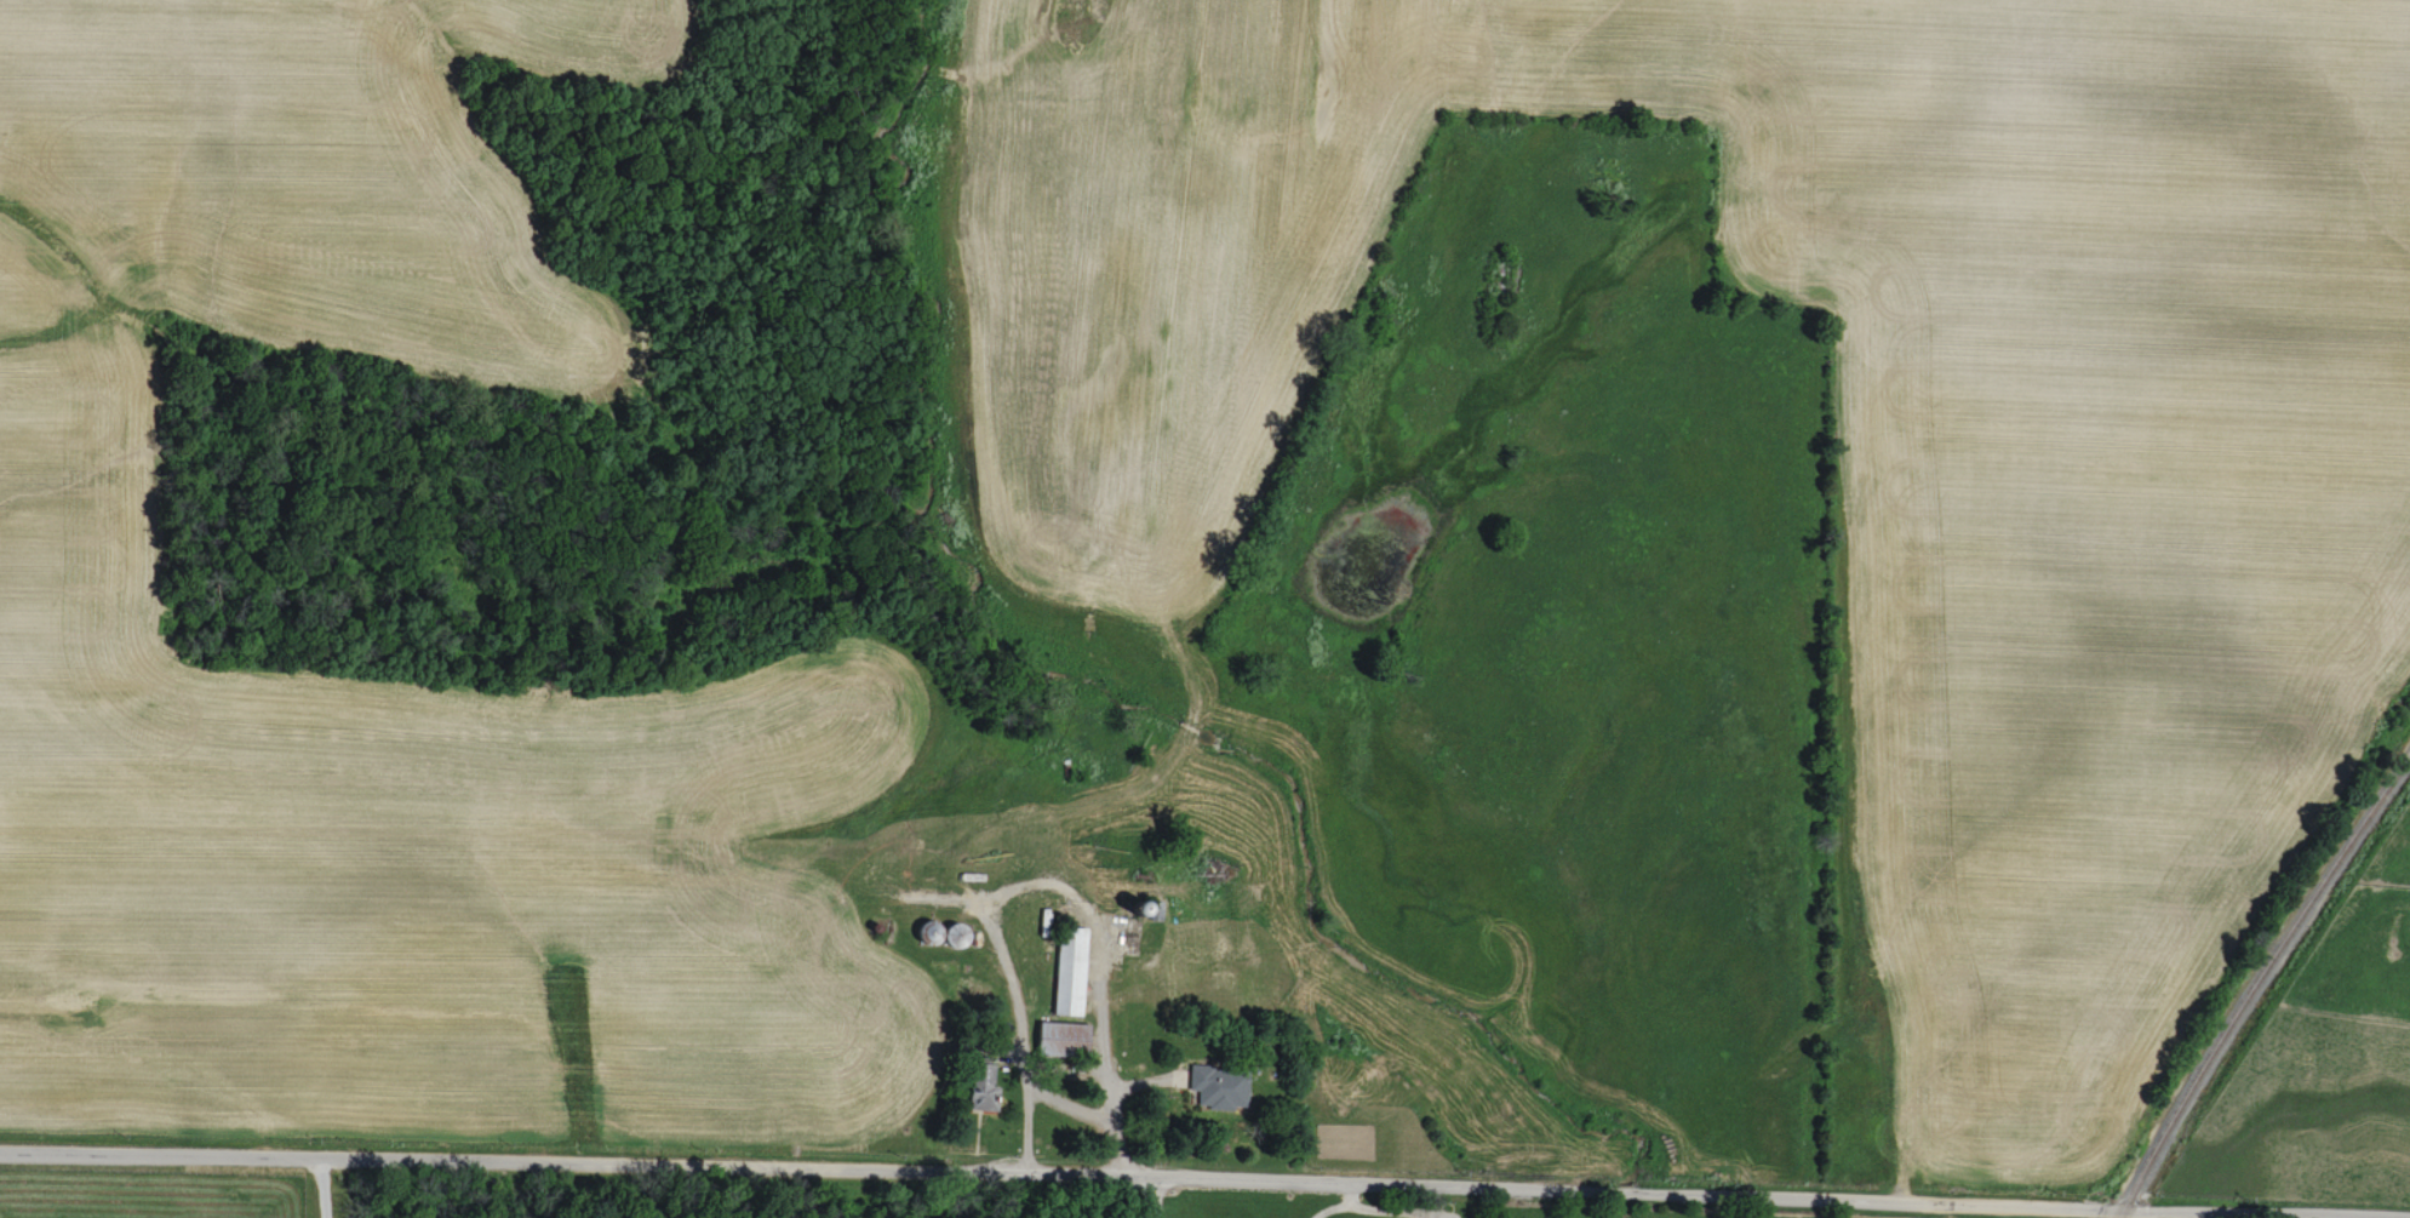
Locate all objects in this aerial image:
road: (1037, 880)
building: (1072, 973)
railway: (2257, 982)
building: (1064, 1037)
building: (1220, 1086)
building: (986, 1090)
road: (1070, 1107)
road: (1144, 1166)
road: (321, 1188)
road: (1139, 1191)

